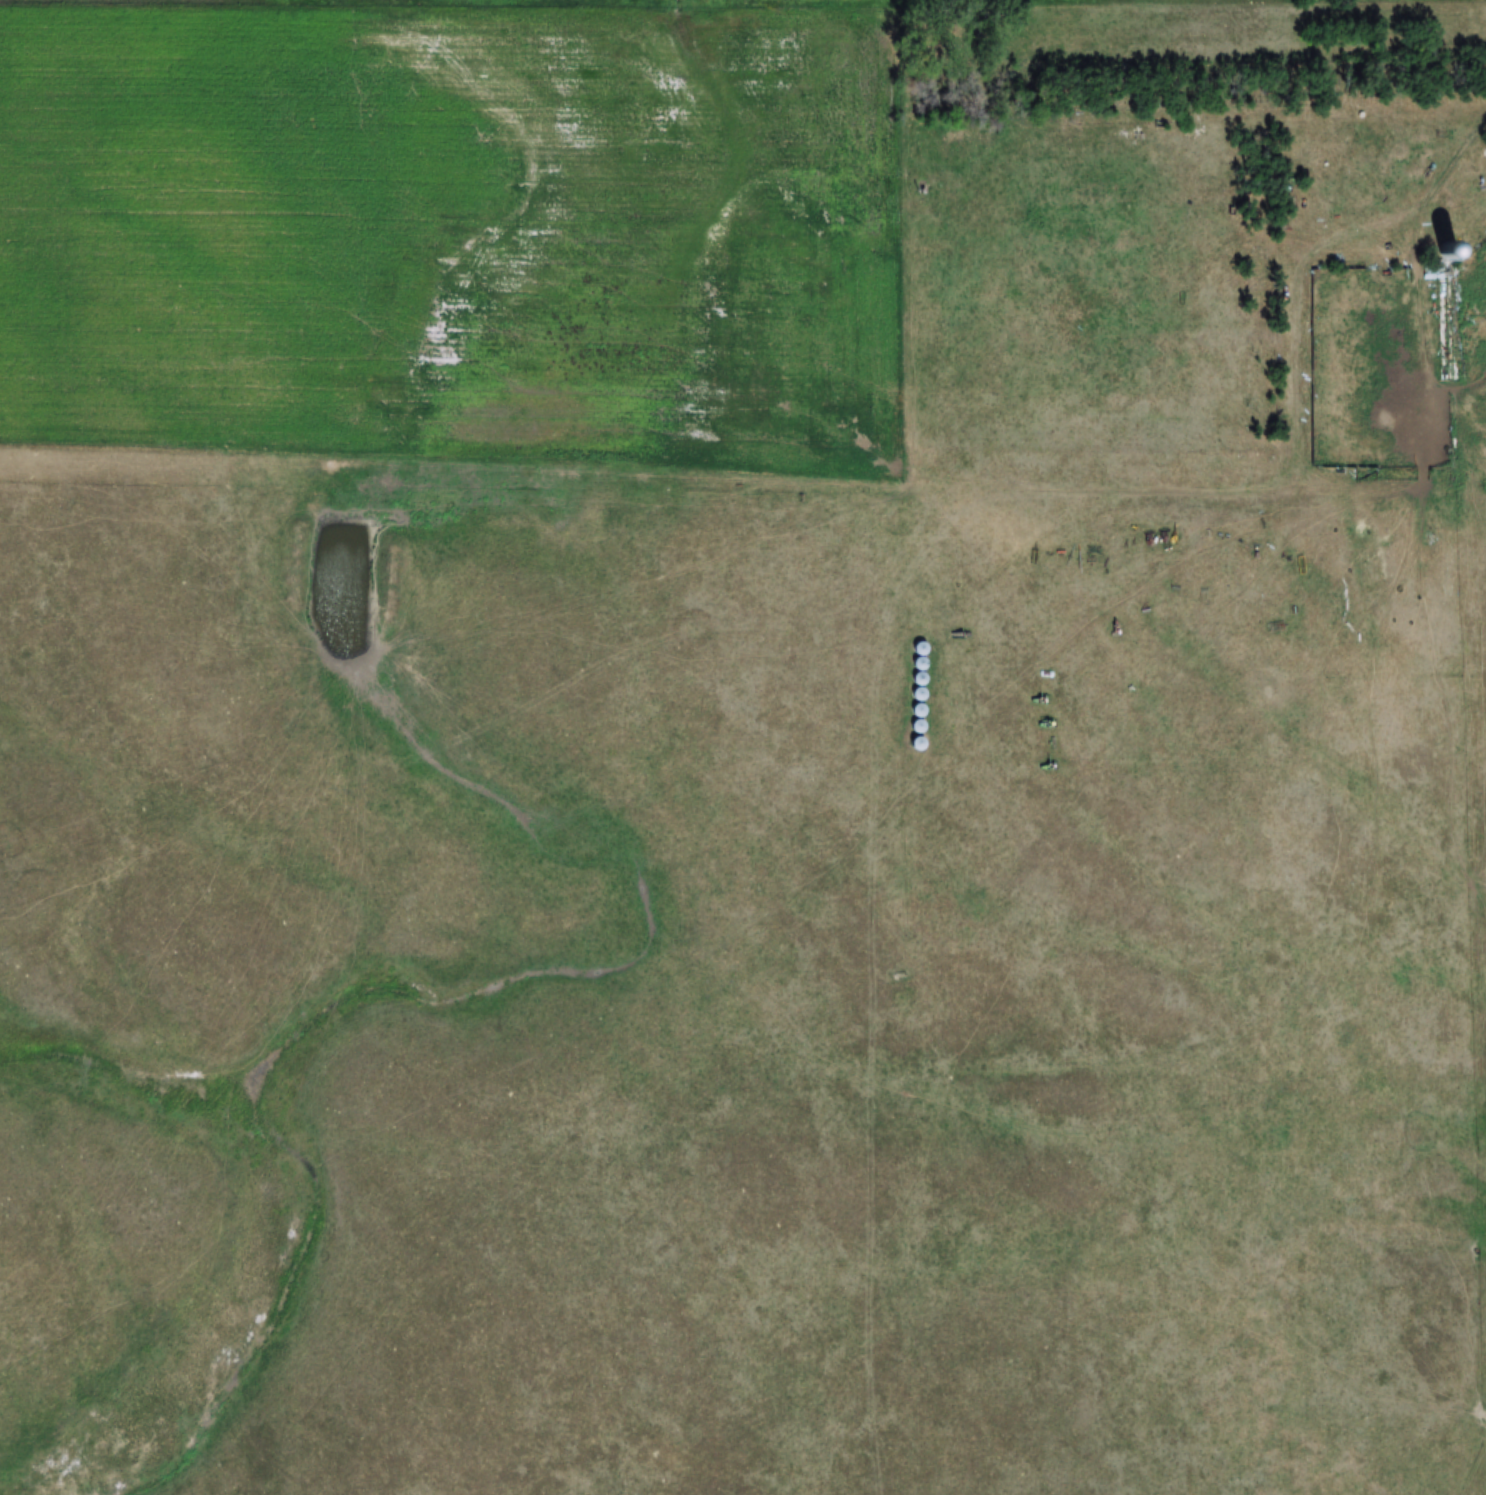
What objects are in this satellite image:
crop: (451, 229)

